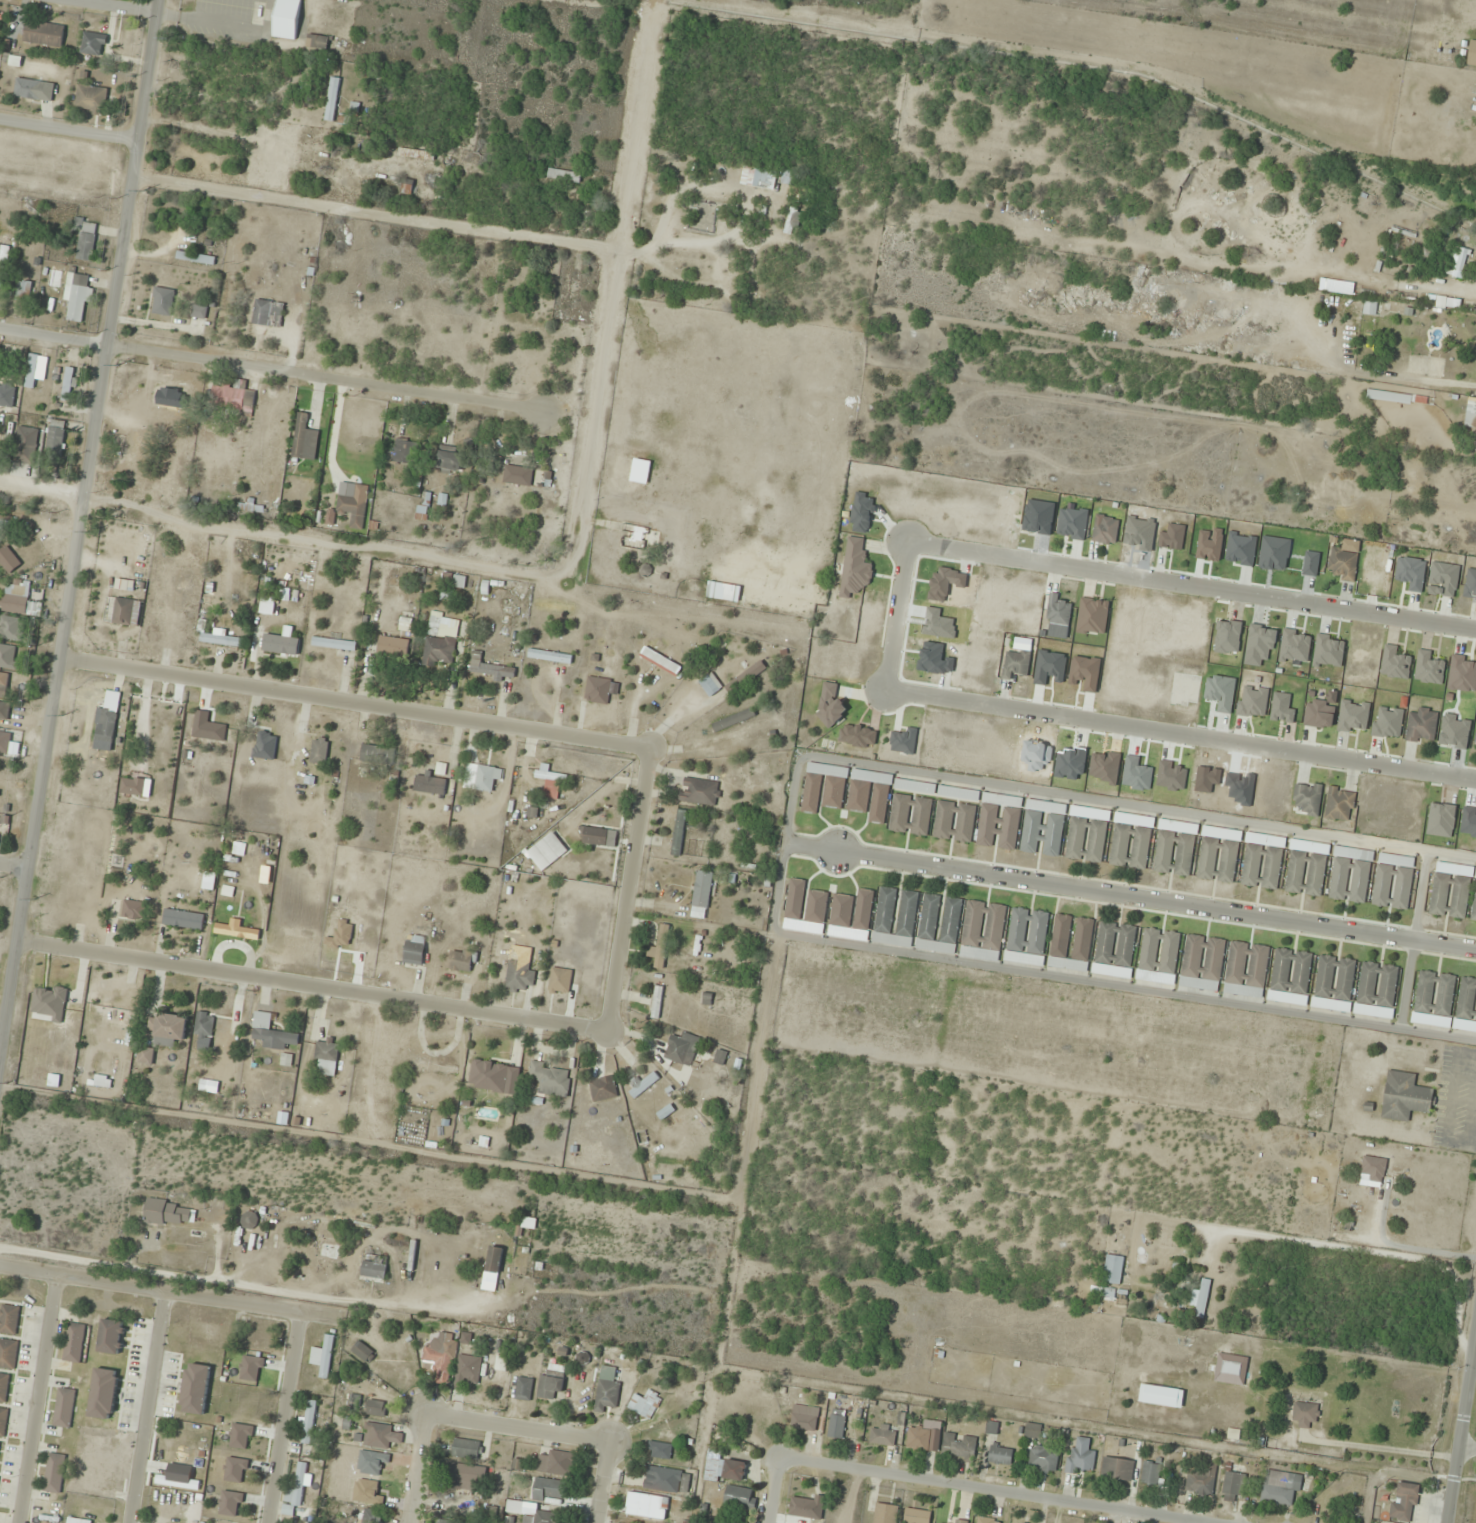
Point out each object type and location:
road: (113, 7)
building: (286, 19)
building: (44, 34)
building: (317, 41)
building: (93, 43)
building: (1472, 54)
building: (34, 89)
building: (91, 99)
building: (332, 99)
road: (71, 133)
building: (416, 154)
building: (564, 175)
building: (787, 178)
building: (758, 179)
building: (406, 188)
building: (84, 241)
building: (195, 258)
building: (3, 264)
building: (77, 295)
building: (22, 296)
building: (162, 301)
building: (1435, 302)
building: (1370, 308)
building: (199, 312)
building: (268, 314)
building: (35, 369)
road: (270, 370)
building: (67, 387)
building: (7, 395)
building: (234, 397)
building: (1471, 414)
building: (55, 438)
building: (305, 438)
building: (26, 446)
building: (404, 452)
building: (450, 461)
building: (641, 471)
building: (518, 476)
building: (354, 507)
road: (77, 518)
building: (1105, 530)
building: (8, 560)
building: (1342, 564)
building: (855, 568)
building: (1411, 573)
road: (1191, 585)
building: (1470, 585)
building: (725, 592)
building: (15, 597)
building: (1057, 610)
building: (123, 611)
road: (897, 613)
building: (11, 628)
building: (222, 640)
building: (441, 641)
building: (334, 644)
building: (393, 647)
building: (549, 656)
building: (9, 657)
building: (1016, 662)
building: (490, 668)
building: (1462, 674)
building: (726, 678)
building: (597, 690)
road: (355, 700)
building: (830, 705)
building: (4, 713)
building: (1319, 714)
building: (107, 717)
building: (733, 719)
building: (1475, 724)
building: (217, 726)
building: (1422, 726)
road: (1181, 735)
building: (4, 741)
building: (319, 750)
building: (378, 754)
building: (482, 777)
building: (551, 781)
building: (430, 784)
building: (824, 787)
building: (700, 791)
building: (859, 796)
building: (1307, 798)
building: (880, 802)
building: (1340, 804)
building: (911, 815)
building: (954, 821)
building: (1000, 822)
building: (1044, 828)
building: (678, 833)
building: (595, 836)
building: (1086, 839)
building: (1131, 842)
building: (1175, 848)
building: (1219, 855)
road: (784, 856)
road: (13, 865)
building: (1306, 868)
building: (1350, 878)
building: (1393, 882)
road: (633, 888)
building: (1451, 892)
building: (701, 894)
road: (1131, 896)
building: (795, 902)
building: (1474, 906)
building: (133, 909)
building: (815, 912)
building: (851, 916)
building: (895, 918)
building: (183, 919)
building: (939, 925)
building: (237, 931)
building: (983, 931)
building: (1027, 937)
road: (1414, 940)
building: (1071, 944)
building: (660, 947)
building: (415, 949)
building: (1115, 950)
building: (1158, 956)
building: (1203, 962)
building: (1246, 969)
building: (519, 976)
building: (1290, 976)
building: (560, 981)
building: (1334, 983)
road: (313, 986)
building: (1377, 990)
building: (1434, 999)
building: (656, 1002)
building: (1466, 1006)
building: (112, 1012)
building: (204, 1024)
building: (168, 1028)
building: (271, 1032)
building: (682, 1049)
building: (146, 1056)
building: (327, 1058)
building: (436, 1067)
building: (489, 1072)
building: (551, 1079)
building: (641, 1084)
building: (603, 1088)
building: (1405, 1096)
building: (1373, 1169)
building: (170, 1213)
building: (249, 1220)
building: (494, 1260)
building: (374, 1267)
building: (1113, 1270)
road: (169, 1292)
building: (1201, 1298)
building: (9, 1319)
building: (111, 1336)
building: (74, 1342)
building: (363, 1351)
building: (8, 1353)
building: (440, 1354)
building: (323, 1356)
building: (582, 1358)
building: (500, 1363)
building: (252, 1368)
building: (1231, 1368)
building: (470, 1369)
building: (551, 1382)
building: (4, 1386)
building: (196, 1388)
building: (523, 1388)
building: (607, 1389)
building: (103, 1393)
building: (1161, 1395)
road: (36, 1399)
building: (645, 1404)
building: (64, 1407)
road: (146, 1407)
building: (376, 1408)
building: (1306, 1414)
building: (805, 1416)
road: (282, 1418)
building: (3, 1421)
building: (308, 1423)
building: (837, 1423)
road: (1461, 1427)
road: (520, 1428)
building: (1033, 1430)
building: (883, 1435)
building: (241, 1436)
building: (379, 1436)
building: (959, 1447)
building: (1306, 1448)
building: (466, 1449)
building: (660, 1450)
building: (1001, 1454)
building: (1081, 1458)
building: (1044, 1459)
building: (555, 1463)
road: (418, 1469)
building: (725, 1469)
building: (1117, 1469)
building: (236, 1470)
building: (54, 1473)
building: (1151, 1474)
building: (467, 1477)
building: (667, 1480)
road: (606, 1482)
building: (1201, 1482)
building: (1233, 1486)
building: (296, 1487)
building: (1280, 1487)
building: (549, 1490)
road: (780, 1491)
road: (994, 1491)
building: (740, 1498)
building: (1405, 1502)
building: (231, 1503)
building: (647, 1506)
building: (516, 1507)
building: (802, 1507)
building: (885, 1513)
building: (370, 1516)
building: (917, 1516)
building: (542, 1517)
building: (77, 1520)
building: (987, 1520)
building: (443, 1521)
building: (957, 1521)
building: (45, 1522)

